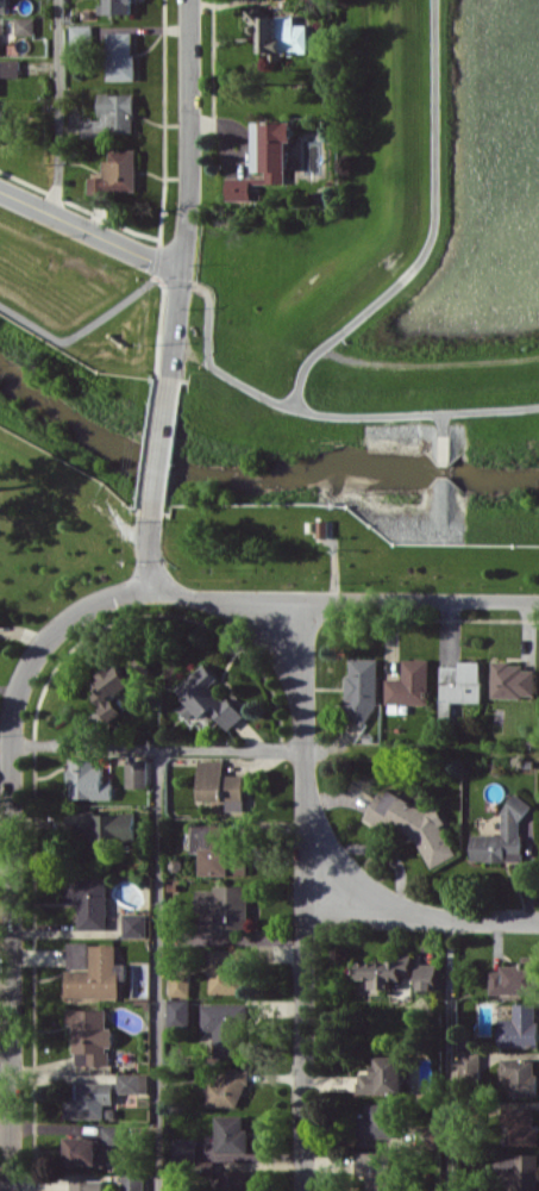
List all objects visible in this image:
building: (2, 6)
building: (115, 6)
building: (25, 25)
building: (278, 32)
building: (82, 35)
building: (0, 38)
building: (121, 55)
building: (10, 67)
road: (57, 106)
building: (114, 116)
building: (0, 124)
building: (265, 158)
building: (118, 173)
road: (189, 199)
road: (92, 231)
road: (434, 231)
road: (175, 281)
road: (418, 414)
road: (162, 445)
river: (253, 479)
building: (327, 528)
road: (343, 601)
building: (513, 679)
building: (410, 682)
building: (119, 684)
building: (460, 685)
building: (362, 688)
building: (207, 700)
road: (157, 744)
building: (137, 773)
building: (87, 780)
building: (220, 785)
road: (11, 804)
building: (413, 824)
building: (104, 827)
building: (502, 837)
building: (218, 850)
road: (303, 874)
building: (88, 900)
building: (226, 908)
building: (134, 924)
building: (79, 954)
road: (157, 968)
building: (226, 969)
building: (384, 971)
building: (96, 974)
building: (427, 975)
building: (516, 978)
building: (180, 984)
building: (178, 1012)
building: (225, 1025)
building: (520, 1027)
building: (90, 1036)
road: (305, 1052)
road: (449, 1054)
building: (469, 1065)
building: (518, 1075)
building: (384, 1077)
building: (133, 1083)
building: (227, 1089)
building: (90, 1100)
building: (377, 1121)
building: (520, 1124)
building: (112, 1134)
building: (231, 1134)
building: (183, 1147)
building: (83, 1151)
building: (377, 1171)
building: (518, 1171)
building: (233, 1180)
building: (132, 1181)
building: (86, 1185)

